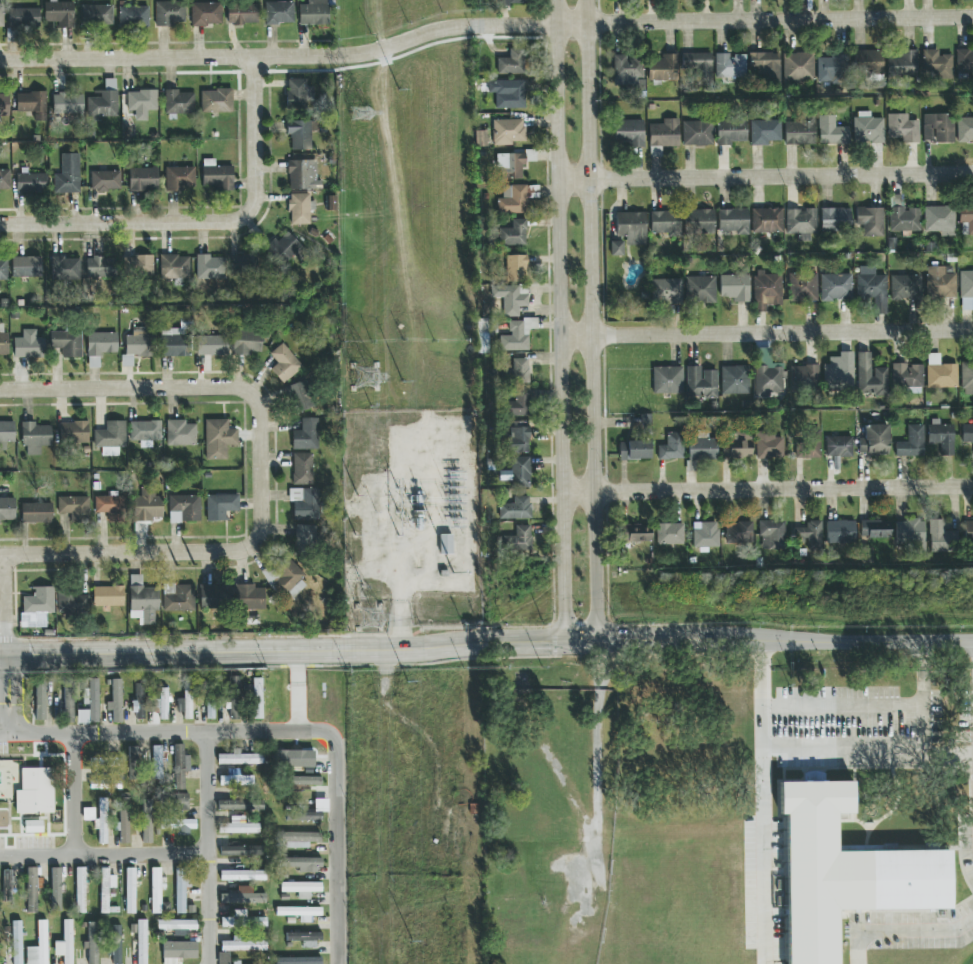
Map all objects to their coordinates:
building: (511, 2)
building: (59, 12)
building: (170, 13)
building: (205, 13)
building: (279, 13)
building: (314, 13)
building: (96, 14)
building: (242, 14)
building: (133, 16)
building: (1, 17)
building: (24, 18)
road: (484, 25)
building: (964, 60)
building: (511, 63)
building: (936, 63)
building: (869, 64)
building: (902, 64)
building: (729, 65)
building: (765, 65)
building: (699, 66)
building: (798, 67)
building: (663, 68)
building: (627, 70)
building: (832, 70)
building: (507, 93)
building: (299, 94)
building: (141, 100)
building: (104, 101)
building: (217, 101)
building: (178, 102)
building: (68, 103)
building: (4, 104)
building: (32, 104)
power tower: (360, 116)
building: (902, 128)
building: (938, 128)
building: (868, 129)
building: (964, 130)
building: (508, 131)
building: (731, 131)
building: (831, 131)
building: (765, 132)
building: (799, 132)
building: (628, 133)
building: (697, 133)
building: (300, 135)
building: (662, 136)
building: (480, 138)
building: (510, 165)
building: (301, 174)
building: (68, 175)
road: (764, 175)
building: (216, 176)
building: (179, 178)
building: (5, 179)
building: (143, 179)
building: (105, 181)
building: (31, 183)
building: (512, 200)
building: (300, 209)
building: (903, 216)
building: (966, 217)
building: (835, 219)
building: (767, 220)
building: (940, 220)
road: (203, 221)
building: (699, 221)
building: (733, 221)
building: (869, 222)
building: (665, 223)
building: (801, 223)
building: (631, 227)
building: (513, 233)
building: (616, 248)
building: (287, 250)
building: (138, 265)
building: (244, 265)
building: (26, 267)
building: (101, 267)
building: (174, 267)
building: (210, 267)
building: (3, 268)
building: (65, 268)
building: (516, 268)
building: (939, 283)
building: (735, 287)
building: (803, 287)
building: (836, 287)
building: (906, 287)
building: (872, 288)
building: (700, 289)
building: (966, 289)
building: (767, 290)
building: (666, 291)
building: (510, 298)
road: (558, 320)
road: (593, 321)
road: (765, 333)
building: (517, 335)
building: (67, 343)
building: (247, 343)
building: (29, 345)
building: (212, 345)
building: (136, 346)
building: (100, 347)
building: (285, 364)
building: (517, 370)
building: (940, 372)
building: (870, 376)
building: (804, 377)
building: (837, 377)
building: (907, 377)
power tower: (364, 378)
building: (967, 378)
building: (667, 380)
building: (735, 380)
building: (769, 380)
building: (700, 383)
road: (173, 386)
building: (300, 397)
building: (520, 403)
building: (145, 431)
building: (74, 432)
building: (6, 433)
building: (180, 433)
building: (306, 435)
building: (967, 435)
building: (35, 437)
building: (941, 437)
building: (111, 438)
building: (218, 439)
building: (519, 440)
building: (874, 440)
building: (911, 442)
building: (809, 444)
building: (737, 446)
building: (768, 446)
building: (839, 446)
building: (671, 447)
building: (702, 449)
building: (634, 450)
building: (302, 469)
building: (520, 472)
road: (767, 491)
building: (305, 504)
building: (149, 506)
building: (220, 506)
building: (110, 507)
building: (74, 508)
building: (184, 508)
building: (516, 508)
building: (7, 510)
building: (37, 513)
power substation: (412, 518)
building: (874, 529)
building: (840, 531)
building: (739, 532)
building: (968, 532)
building: (635, 533)
building: (909, 533)
building: (670, 534)
building: (705, 535)
building: (771, 535)
building: (809, 535)
building: (941, 537)
building: (306, 539)
building: (518, 539)
building: (445, 544)
road: (160, 552)
building: (289, 580)
building: (107, 596)
building: (214, 596)
building: (249, 597)
building: (178, 598)
building: (142, 602)
building: (73, 603)
road: (2, 605)
building: (36, 605)
power tower: (367, 622)
road: (785, 639)
traffic signals: (563, 641)
road: (581, 641)
traffic signals: (599, 642)
road: (281, 653)
road: (4, 695)
building: (235, 698)
building: (257, 698)
road: (927, 698)
building: (40, 700)
building: (115, 700)
building: (186, 701)
building: (138, 702)
building: (89, 703)
building: (162, 703)
building: (68, 704)
building: (209, 706)
road: (846, 714)
road: (166, 732)
road: (868, 757)
building: (240, 759)
building: (296, 761)
building: (134, 763)
building: (156, 763)
building: (181, 764)
building: (236, 779)
building: (305, 780)
building: (35, 791)
road: (76, 795)
road: (764, 801)
building: (181, 803)
building: (240, 805)
building: (309, 812)
building: (88, 814)
building: (123, 820)
building: (102, 821)
building: (146, 821)
building: (33, 825)
building: (185, 826)
building: (239, 826)
building: (299, 839)
road: (211, 847)
road: (339, 847)
building: (242, 850)
road: (106, 855)
building: (303, 864)
building: (845, 872)
building: (242, 875)
building: (8, 885)
building: (32, 888)
building: (181, 888)
building: (301, 888)
building: (56, 889)
building: (156, 889)
building: (80, 890)
building: (130, 890)
building: (106, 891)
building: (243, 896)
building: (299, 913)
building: (242, 920)
building: (178, 926)
building: (305, 938)
road: (910, 941)
building: (17, 942)
building: (92, 942)
building: (65, 943)
building: (117, 944)
building: (139, 945)
building: (245, 945)
building: (39, 946)
building: (180, 950)
building: (299, 960)

